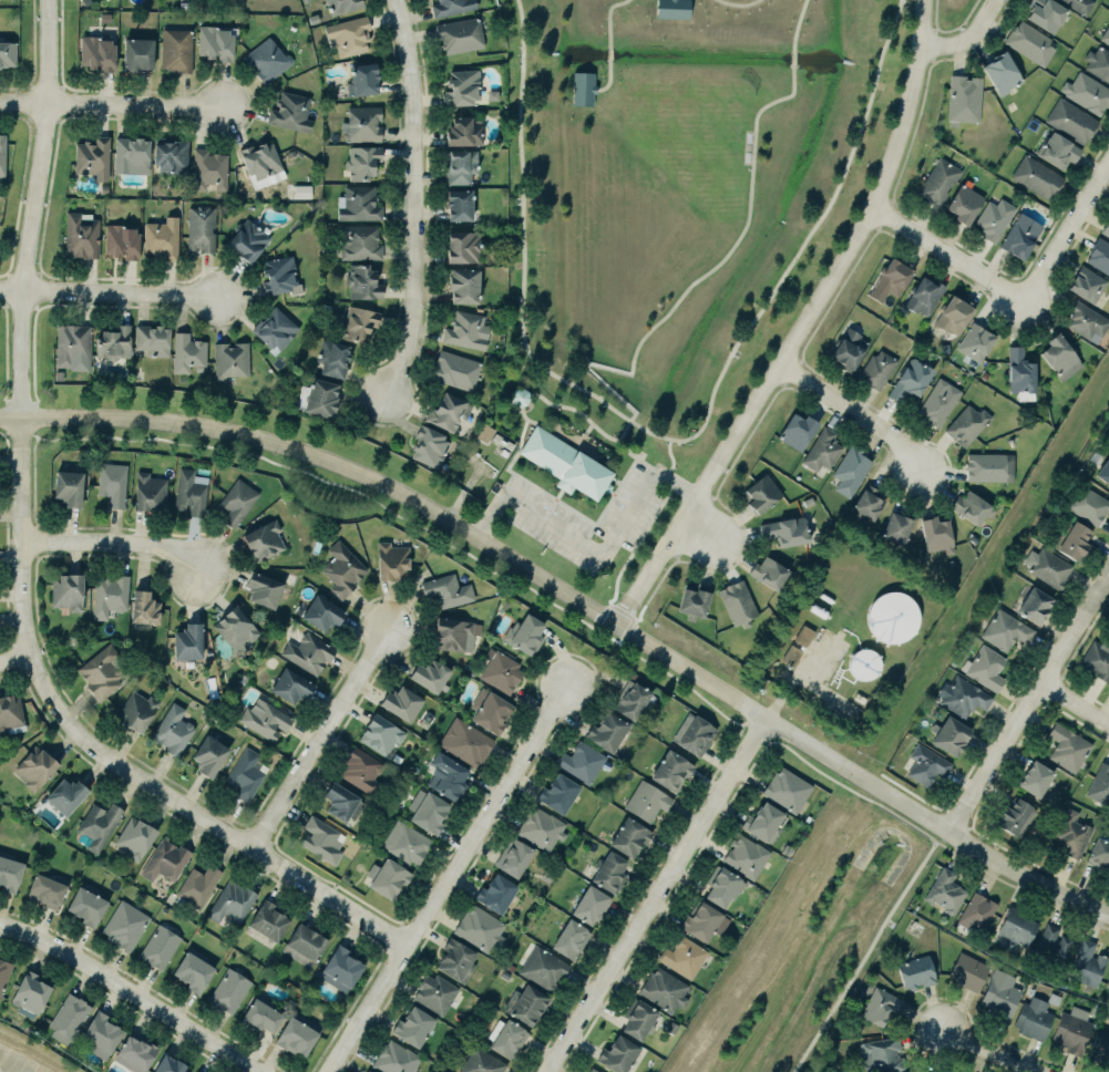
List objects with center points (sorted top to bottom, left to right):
road: (740, 4)
building: (1079, 4)
building: (341, 6)
building: (450, 7)
building: (674, 9)
building: (1045, 13)
road: (609, 17)
road: (798, 24)
building: (458, 33)
building: (347, 34)
building: (1105, 34)
road: (966, 37)
building: (215, 41)
building: (1028, 42)
building: (174, 48)
road: (610, 52)
building: (7, 53)
building: (96, 53)
building: (137, 53)
road: (794, 58)
building: (265, 59)
building: (1098, 63)
building: (999, 72)
building: (361, 79)
road: (609, 79)
building: (462, 86)
building: (584, 90)
building: (1087, 93)
building: (962, 97)
road: (112, 103)
building: (290, 112)
building: (1071, 121)
building: (364, 124)
park: (700, 126)
building: (462, 131)
building: (1058, 151)
building: (2, 154)
building: (170, 154)
building: (131, 155)
building: (91, 156)
building: (259, 159)
building: (360, 161)
building: (459, 165)
building: (207, 168)
building: (1035, 175)
building: (937, 179)
road: (414, 197)
building: (455, 200)
building: (963, 203)
building: (357, 204)
building: (993, 218)
building: (201, 228)
building: (1105, 228)
road: (1065, 231)
building: (79, 235)
building: (1019, 235)
building: (161, 237)
building: (120, 240)
building: (247, 240)
building: (359, 241)
park: (663, 243)
building: (462, 246)
building: (1099, 255)
road: (946, 257)
building: (278, 275)
building: (892, 276)
building: (361, 281)
road: (692, 282)
building: (1086, 284)
building: (462, 285)
road: (109, 291)
building: (923, 295)
building: (953, 313)
building: (1085, 319)
building: (357, 323)
road: (804, 323)
building: (273, 328)
building: (465, 329)
building: (151, 339)
building: (974, 341)
building: (114, 342)
building: (70, 343)
building: (849, 349)
building: (187, 352)
building: (331, 357)
building: (1058, 357)
building: (232, 359)
building: (453, 369)
building: (875, 369)
building: (911, 379)
building: (317, 396)
building: (517, 396)
building: (937, 401)
road: (558, 405)
building: (445, 411)
road: (854, 414)
building: (967, 424)
road: (587, 427)
building: (797, 431)
road: (1, 432)
road: (3, 432)
building: (484, 433)
road: (665, 436)
park: (4, 439)
road: (578, 440)
road: (6, 442)
road: (518, 444)
building: (428, 446)
building: (821, 449)
road: (669, 453)
building: (564, 462)
building: (988, 466)
building: (850, 471)
building: (1103, 471)
road: (664, 476)
road: (615, 478)
building: (112, 483)
building: (69, 486)
road: (610, 491)
building: (148, 492)
building: (189, 492)
road: (557, 493)
building: (760, 493)
road: (550, 495)
road: (609, 498)
building: (237, 502)
building: (865, 502)
building: (1086, 504)
parking lot: (537, 506)
building: (971, 507)
road: (543, 516)
building: (894, 527)
building: (784, 529)
road: (700, 534)
building: (936, 534)
building: (1070, 538)
building: (263, 539)
road: (637, 542)
road: (114, 543)
road: (595, 548)
building: (391, 560)
building: (1047, 566)
road: (23, 569)
building: (341, 569)
building: (767, 571)
building: (261, 588)
building: (446, 589)
building: (66, 590)
building: (109, 594)
road: (577, 595)
building: (694, 600)
building: (738, 604)
building: (1035, 605)
building: (142, 607)
building: (321, 612)
building: (893, 617)
building: (236, 627)
building: (1005, 630)
building: (452, 633)
building: (523, 633)
building: (803, 635)
building: (188, 641)
road: (11, 642)
road: (4, 643)
building: (307, 653)
building: (791, 654)
building: (1096, 660)
road: (14, 661)
building: (864, 663)
building: (985, 668)
building: (501, 670)
building: (99, 671)
building: (429, 674)
building: (290, 686)
building: (962, 697)
building: (631, 700)
building: (402, 702)
road: (1026, 703)
road: (1074, 704)
building: (489, 709)
building: (136, 710)
building: (9, 711)
building: (265, 719)
building: (172, 730)
building: (606, 731)
building: (379, 733)
building: (692, 733)
building: (951, 735)
road: (321, 738)
building: (464, 741)
building: (1066, 746)
building: (208, 755)
building: (394, 757)
building: (582, 762)
building: (926, 764)
building: (34, 766)
building: (360, 770)
building: (671, 770)
building: (244, 774)
building: (446, 776)
building: (1034, 777)
building: (1099, 784)
building: (785, 788)
building: (557, 792)
building: (64, 795)
building: (338, 800)
building: (645, 800)
building: (427, 811)
building: (1015, 817)
building: (764, 822)
building: (95, 825)
building: (540, 827)
building: (1070, 834)
building: (133, 836)
building: (629, 837)
building: (321, 839)
building: (404, 843)
building: (1098, 853)
building: (746, 856)
building: (513, 857)
building: (164, 859)
building: (610, 872)
building: (8, 873)
building: (386, 877)
road: (448, 879)
building: (197, 884)
building: (721, 885)
building: (45, 889)
building: (944, 890)
building: (495, 893)
road: (656, 896)
building: (229, 901)
building: (589, 905)
building: (84, 906)
building: (977, 911)
building: (266, 919)
building: (699, 920)
building: (123, 924)
building: (479, 928)
building: (1017, 929)
building: (568, 938)
building: (304, 945)
building: (1050, 945)
building: (158, 947)
road: (866, 950)
building: (684, 957)
building: (455, 960)
building: (1087, 963)
building: (542, 967)
building: (340, 968)
building: (193, 969)
building: (915, 971)
building: (967, 971)
building: (3, 972)
building: (1108, 983)
building: (228, 990)
building: (664, 990)
road: (132, 991)
building: (28, 993)
building: (434, 993)
building: (1000, 994)
building: (527, 1004)
building: (879, 1006)
building: (260, 1014)
building: (68, 1017)
building: (1033, 1017)
building: (639, 1020)
building: (412, 1025)
building: (1069, 1031)
building: (99, 1033)
building: (297, 1034)
building: (506, 1038)
building: (1099, 1047)
building: (134, 1052)
building: (616, 1053)
road: (988, 1053)
building: (881, 1054)
building: (393, 1058)
building: (481, 1062)
building: (167, 1064)
building: (194, 1071)
building: (196, 1071)
building: (368, 1071)
building: (591, 1071)
building: (924, 1071)

